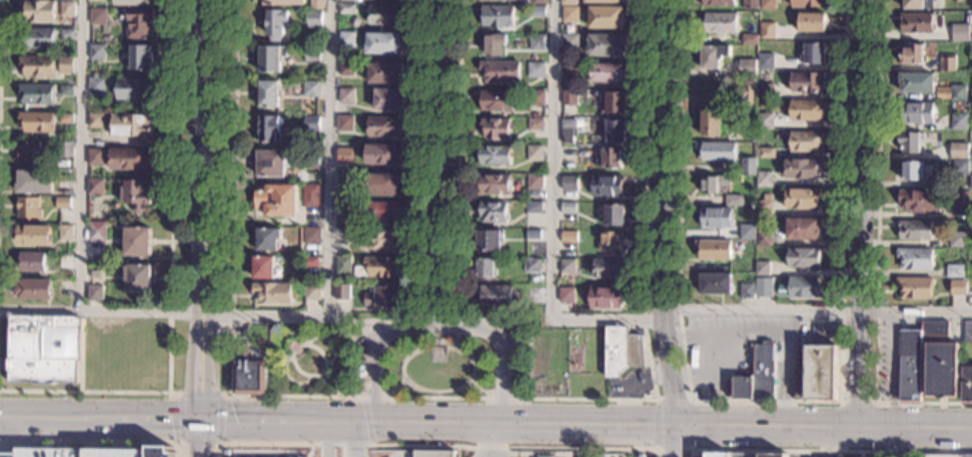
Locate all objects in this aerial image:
building: (95, 0)
building: (962, 0)
building: (346, 1)
building: (605, 1)
building: (133, 2)
building: (283, 2)
building: (540, 2)
building: (569, 2)
building: (718, 3)
building: (807, 3)
building: (317, 4)
building: (750, 4)
building: (767, 4)
building: (917, 4)
building: (67, 9)
building: (347, 9)
building: (39, 10)
building: (537, 11)
building: (570, 14)
building: (385, 15)
building: (98, 16)
building: (497, 16)
building: (606, 17)
building: (314, 18)
building: (810, 22)
building: (719, 23)
building: (915, 23)
building: (139, 24)
building: (276, 24)
building: (767, 30)
building: (67, 34)
building: (958, 35)
building: (38, 36)
building: (348, 39)
building: (749, 39)
building: (569, 42)
building: (384, 43)
building: (536, 43)
building: (495, 44)
building: (607, 45)
building: (97, 51)
building: (312, 53)
building: (813, 54)
building: (911, 54)
building: (712, 56)
building: (141, 58)
building: (272, 58)
building: (766, 61)
building: (947, 63)
building: (66, 64)
building: (971, 64)
building: (37, 66)
building: (347, 67)
building: (536, 70)
building: (569, 70)
building: (500, 71)
building: (745, 71)
building: (382, 72)
building: (607, 72)
building: (806, 82)
building: (916, 83)
building: (96, 85)
building: (311, 88)
building: (66, 90)
building: (134, 90)
building: (765, 91)
building: (747, 92)
building: (957, 93)
building: (37, 94)
building: (269, 94)
building: (346, 95)
building: (971, 95)
building: (536, 98)
building: (569, 98)
building: (388, 99)
building: (496, 101)
building: (613, 103)
building: (807, 110)
building: (916, 113)
building: (65, 118)
building: (96, 120)
building: (764, 121)
building: (958, 121)
building: (37, 122)
building: (311, 123)
building: (345, 123)
building: (710, 123)
building: (535, 124)
building: (132, 125)
building: (384, 126)
building: (495, 128)
building: (269, 129)
building: (569, 130)
building: (615, 131)
building: (806, 141)
building: (910, 141)
building: (64, 149)
building: (715, 150)
building: (29, 152)
building: (958, 152)
building: (534, 153)
building: (766, 153)
building: (383, 154)
road: (80, 155)
building: (344, 155)
building: (494, 155)
building: (971, 155)
building: (96, 157)
road: (328, 158)
building: (610, 158)
building: (129, 159)
building: (311, 159)
building: (271, 163)
road: (441, 163)
building: (749, 166)
building: (803, 168)
building: (960, 168)
building: (912, 171)
building: (345, 180)
building: (764, 180)
building: (534, 181)
building: (35, 182)
building: (569, 183)
building: (713, 183)
building: (495, 184)
building: (971, 184)
building: (380, 185)
building: (606, 185)
building: (96, 187)
building: (136, 195)
building: (311, 195)
road: (234, 198)
building: (802, 198)
building: (960, 198)
building: (277, 200)
building: (919, 200)
building: (733, 201)
building: (63, 203)
building: (533, 207)
building: (29, 208)
building: (344, 208)
building: (567, 208)
building: (763, 209)
building: (384, 211)
building: (492, 211)
building: (743, 211)
building: (970, 211)
road: (664, 213)
road: (553, 214)
road: (858, 214)
building: (613, 215)
building: (715, 218)
road: (205, 228)
building: (802, 228)
building: (914, 229)
road: (456, 231)
building: (97, 232)
building: (746, 232)
building: (66, 233)
building: (344, 235)
building: (532, 235)
building: (34, 236)
building: (311, 236)
building: (568, 236)
building: (763, 238)
building: (268, 239)
building: (381, 239)
building: (137, 241)
building: (488, 241)
building: (970, 241)
building: (609, 242)
building: (954, 242)
building: (713, 249)
road: (875, 250)
building: (803, 258)
building: (915, 258)
building: (33, 262)
building: (310, 262)
building: (343, 264)
building: (532, 265)
building: (567, 266)
road: (642, 266)
building: (263, 267)
building: (381, 267)
building: (608, 268)
building: (761, 268)
building: (485, 269)
building: (971, 270)
building: (954, 271)
building: (138, 278)
road: (170, 281)
building: (715, 283)
building: (763, 287)
building: (804, 287)
building: (914, 287)
building: (959, 287)
building: (34, 289)
road: (421, 289)
building: (746, 290)
building: (313, 292)
building: (342, 292)
building: (94, 293)
building: (273, 293)
building: (495, 295)
building: (565, 295)
building: (386, 296)
building: (604, 298)
road: (818, 309)
road: (173, 314)
road: (457, 326)
road: (419, 327)
road: (441, 327)
building: (934, 328)
building: (967, 332)
road: (283, 336)
road: (338, 336)
road: (328, 343)
road: (420, 343)
road: (456, 344)
building: (45, 349)
road: (294, 349)
building: (242, 350)
building: (620, 351)
building: (438, 355)
park: (409, 358)
road: (468, 358)
building: (910, 366)
building: (941, 369)
building: (816, 374)
building: (757, 375)
building: (251, 378)
road: (288, 379)
road: (335, 385)
building: (967, 385)
road: (396, 390)
road: (479, 392)
road: (174, 395)
road: (227, 396)
road: (355, 398)
road: (375, 398)
building: (702, 398)
road: (438, 399)
road: (501, 400)
road: (520, 400)
road: (762, 402)
traffic signals: (202, 418)
road: (336, 422)
road: (366, 422)
road: (655, 426)
road: (689, 427)
road: (822, 428)
road: (878, 428)
road: (218, 440)
road: (351, 440)
road: (674, 442)
road: (97, 443)
road: (899, 443)
road: (432, 447)
building: (87, 451)
parking lot: (87, 451)
road: (785, 451)
building: (225, 452)
building: (437, 453)
road: (943, 453)
building: (642, 455)
building: (729, 455)
building: (772, 455)
building: (946, 456)

